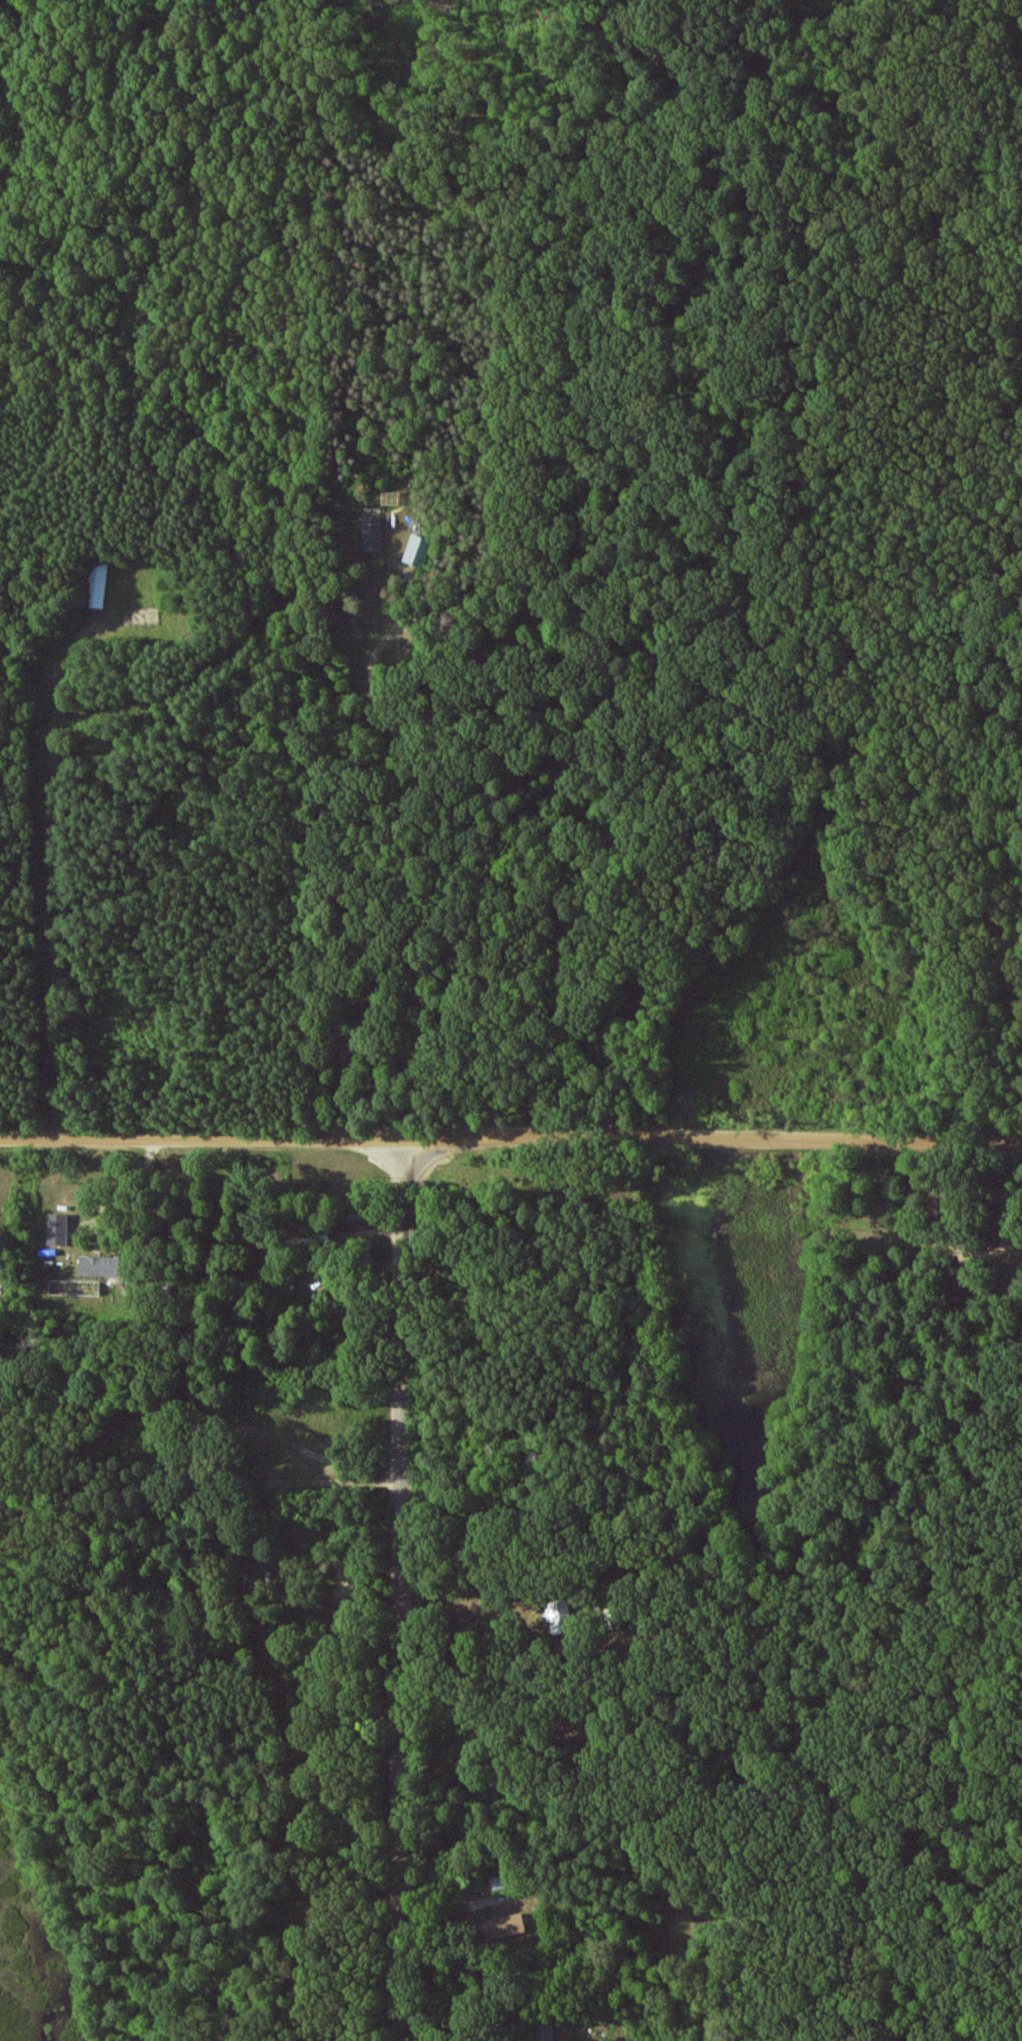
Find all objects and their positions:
building: (373, 534)
building: (416, 549)
building: (96, 585)
road: (44, 882)
road: (511, 1137)
building: (58, 1229)
building: (99, 1266)
building: (74, 1287)
road: (404, 1588)
building: (559, 1617)
building: (505, 1926)
building: (543, 2029)

